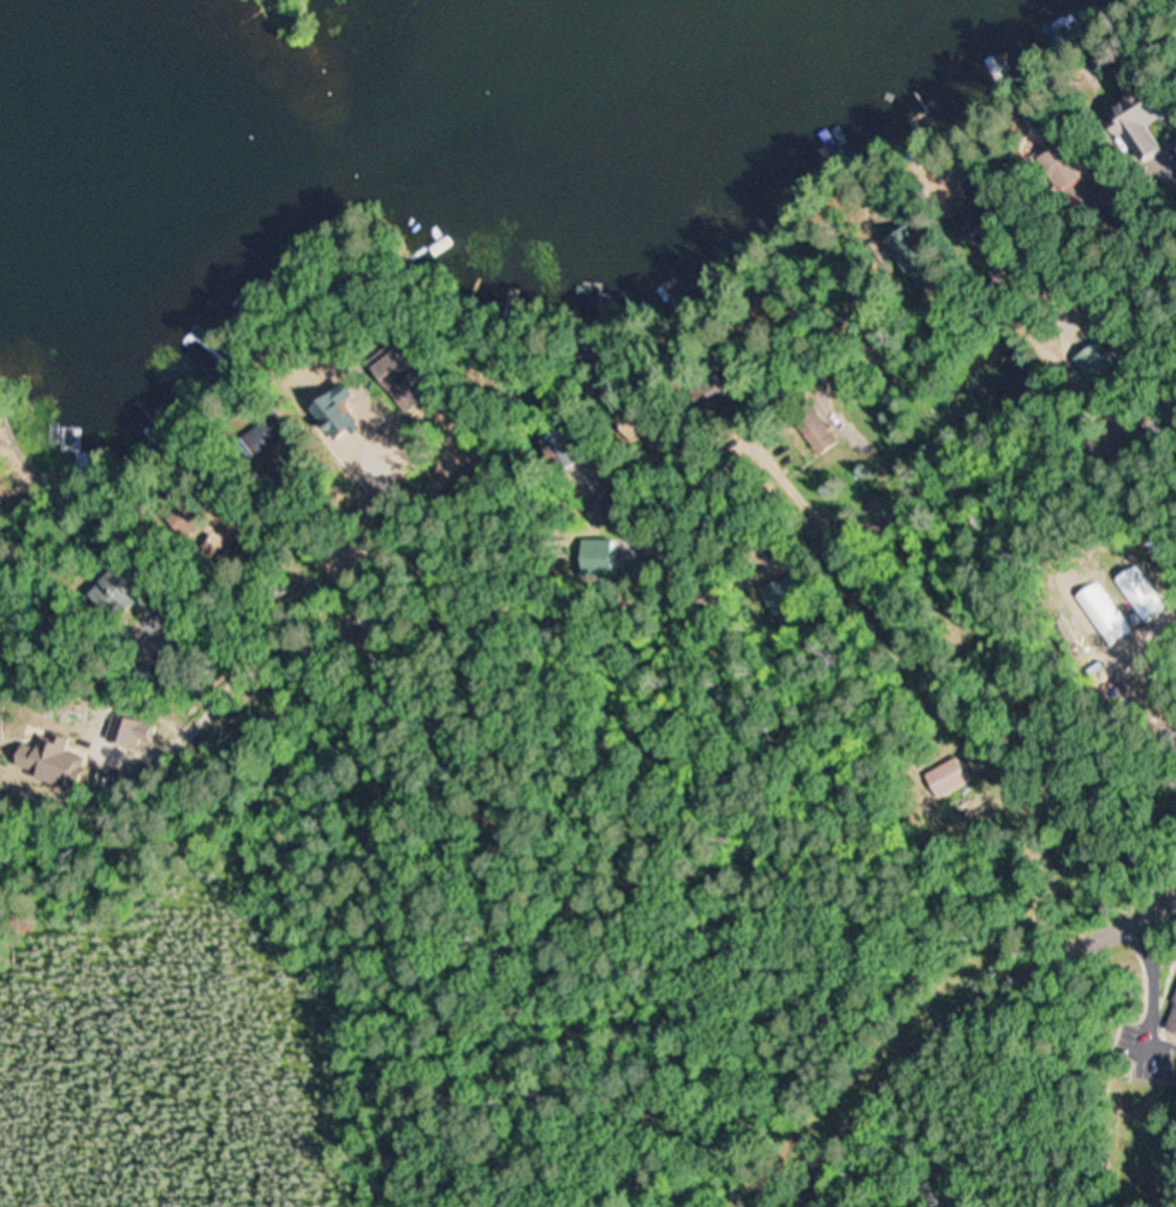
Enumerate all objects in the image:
building: (1133, 121)
building: (1055, 168)
building: (980, 203)
building: (917, 252)
road: (1095, 296)
building: (1088, 363)
building: (399, 370)
building: (635, 420)
building: (262, 434)
road: (835, 441)
building: (130, 587)
road: (693, 594)
building: (752, 597)
building: (135, 735)
building: (929, 771)
road: (952, 1012)
building: (1175, 1029)

